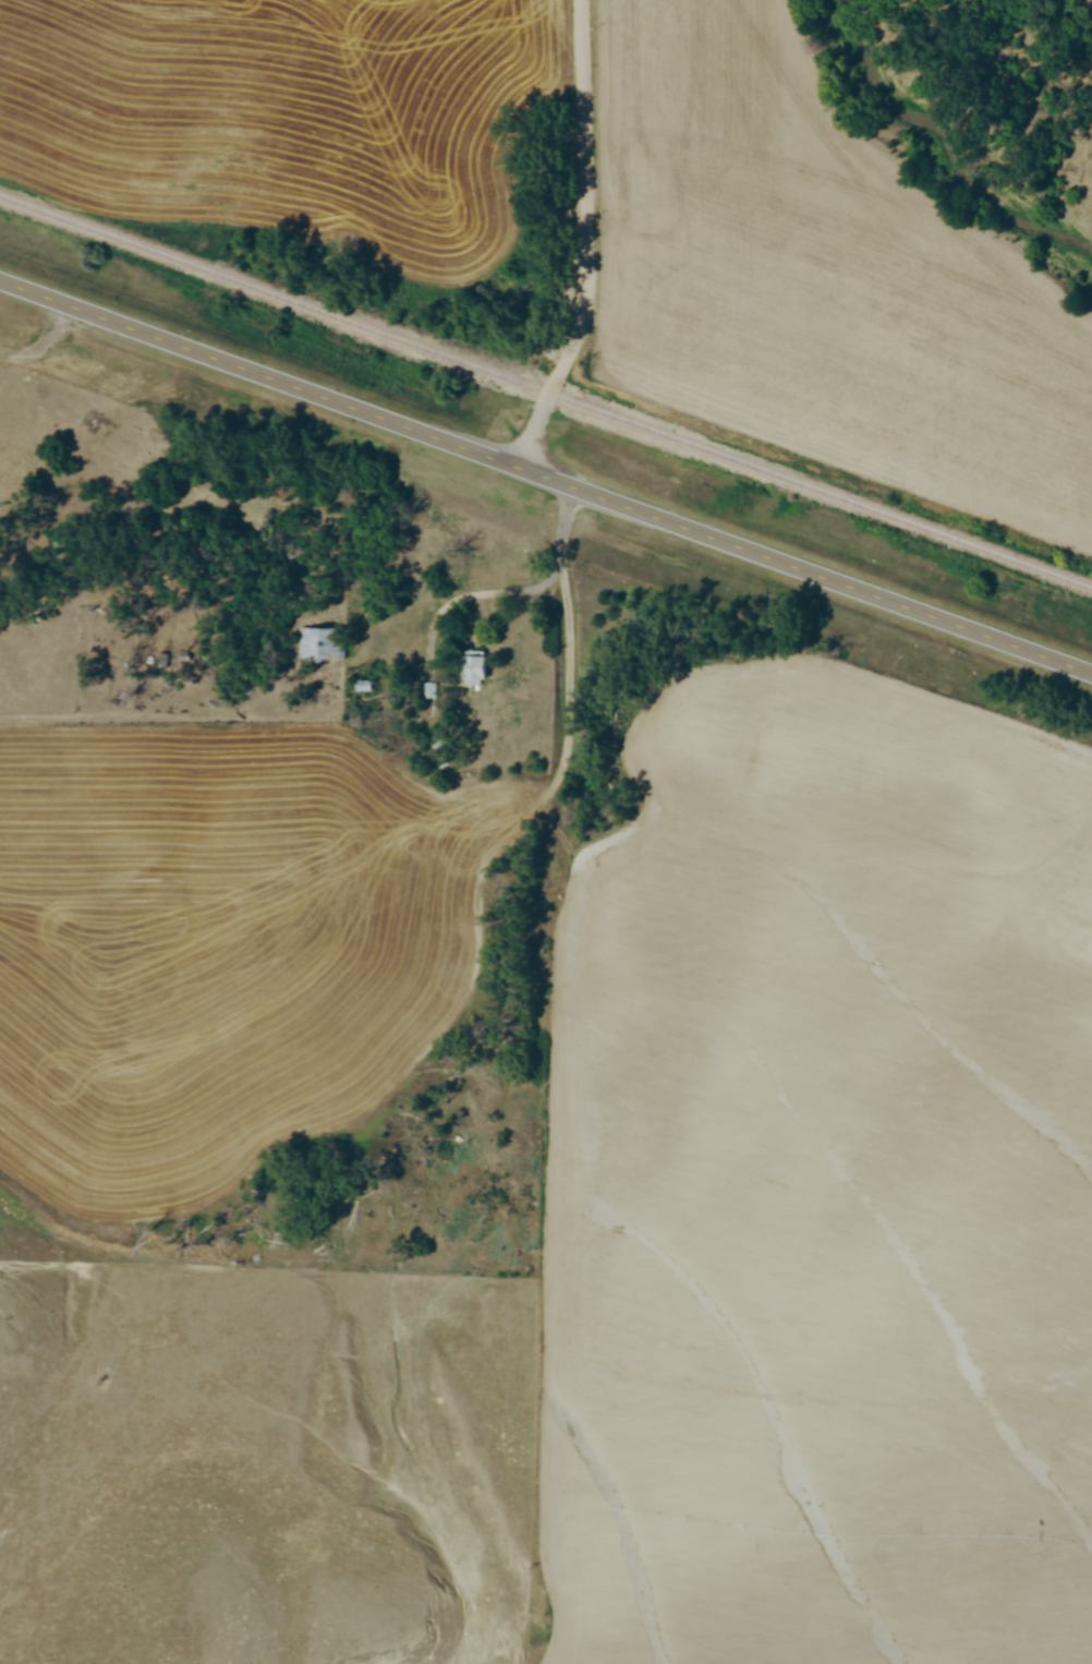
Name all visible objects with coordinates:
road: (582, 238)
railway: (546, 393)
road: (546, 474)
road: (550, 577)
building: (323, 646)
building: (474, 668)
crop: (220, 948)

